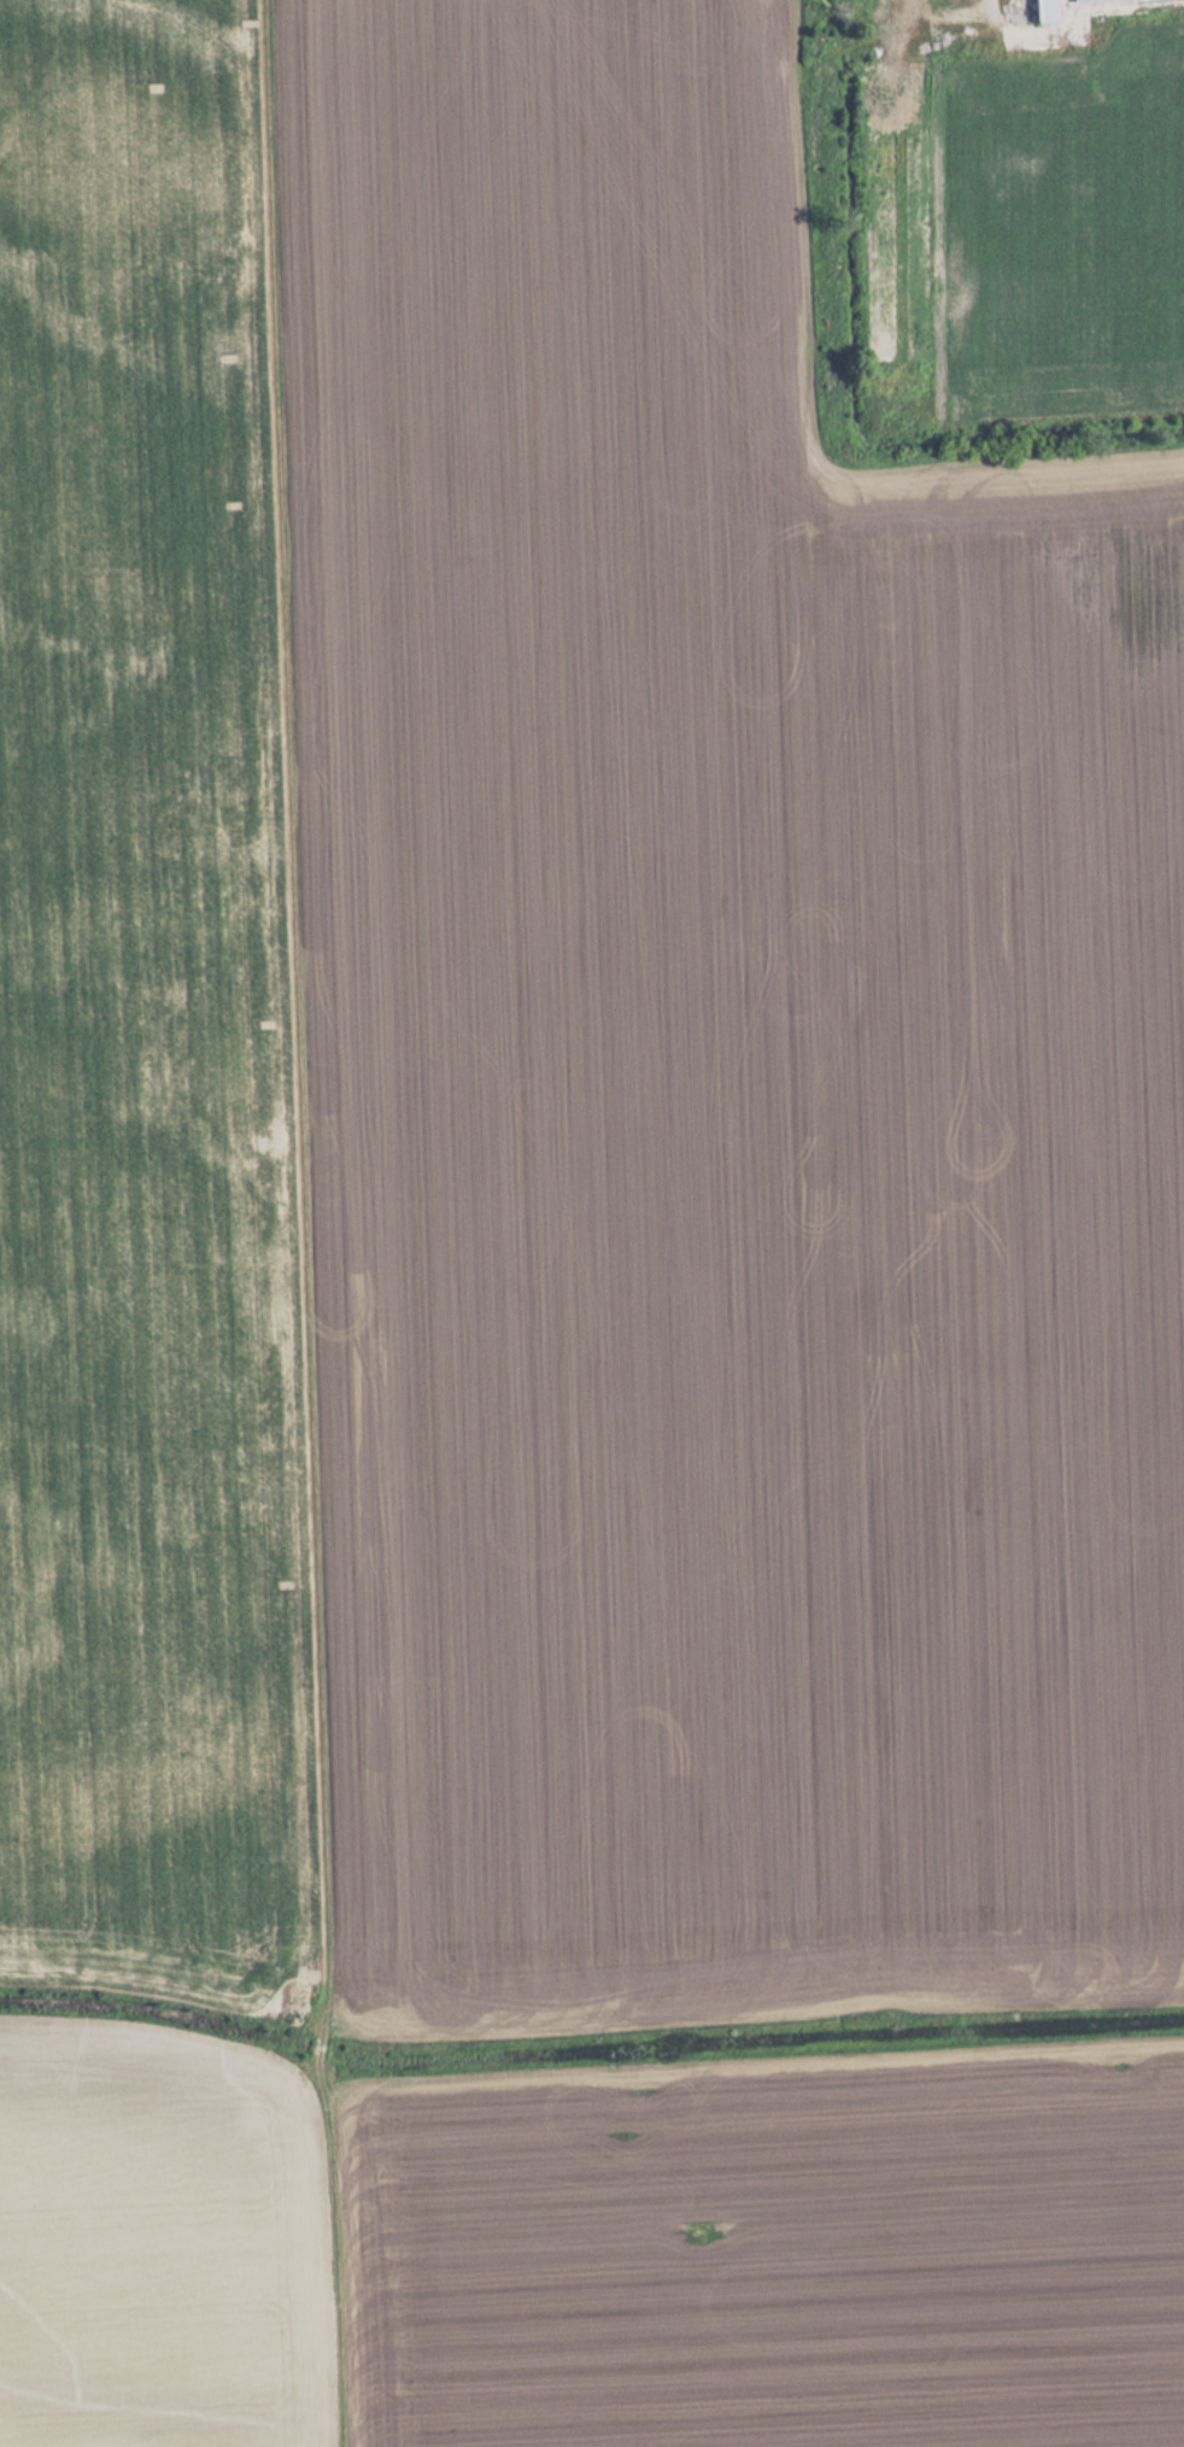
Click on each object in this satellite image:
building: (1089, 0)
building: (1049, 10)

